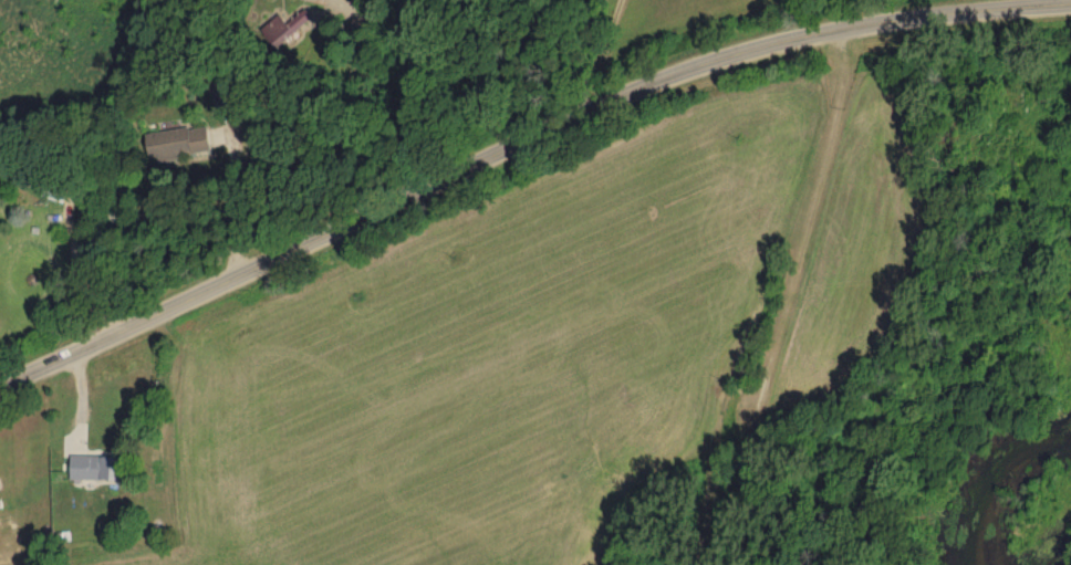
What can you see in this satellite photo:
building: (294, 24)
road: (615, 57)
road: (336, 129)
building: (186, 140)
road: (522, 153)
road: (233, 205)
building: (106, 465)

